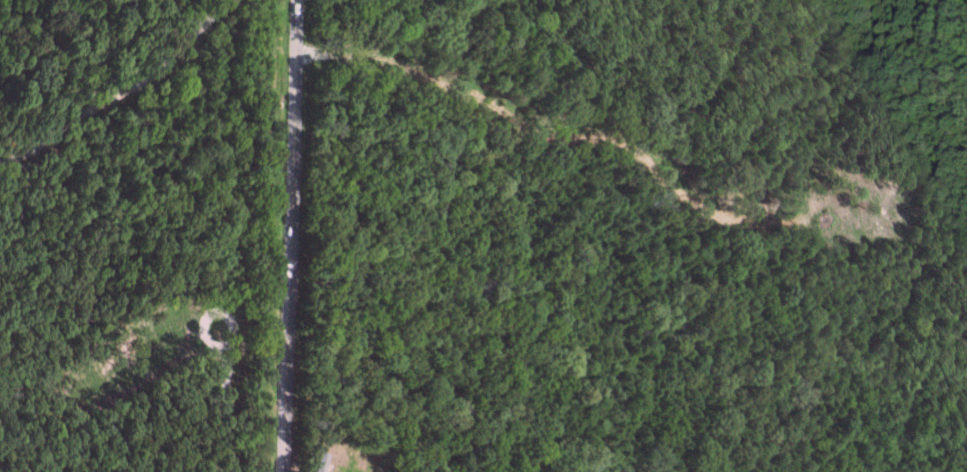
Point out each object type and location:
road: (285, 235)

